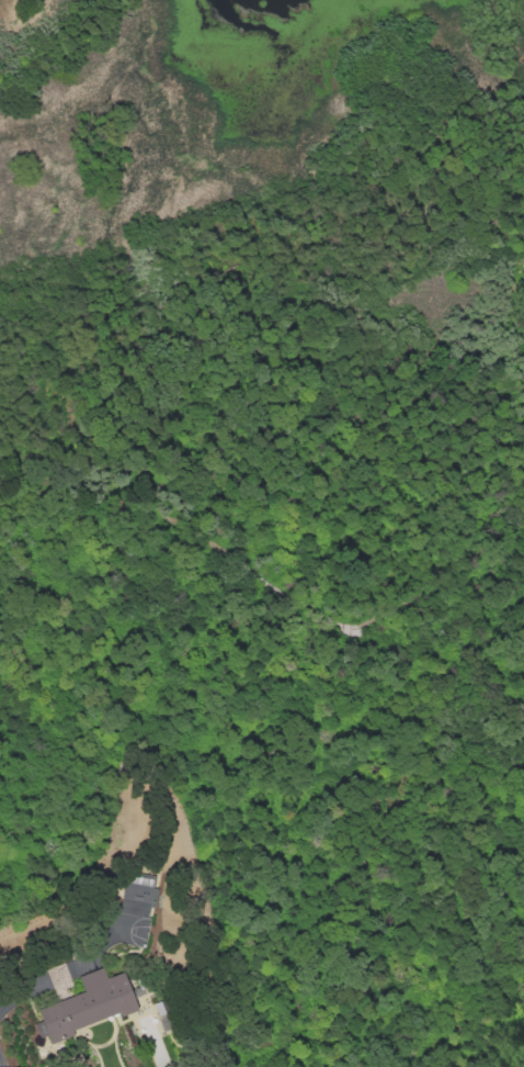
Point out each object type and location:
road: (277, 571)
building: (135, 897)
building: (150, 943)
building: (135, 981)
building: (143, 992)
building: (89, 1007)
building: (45, 1054)

